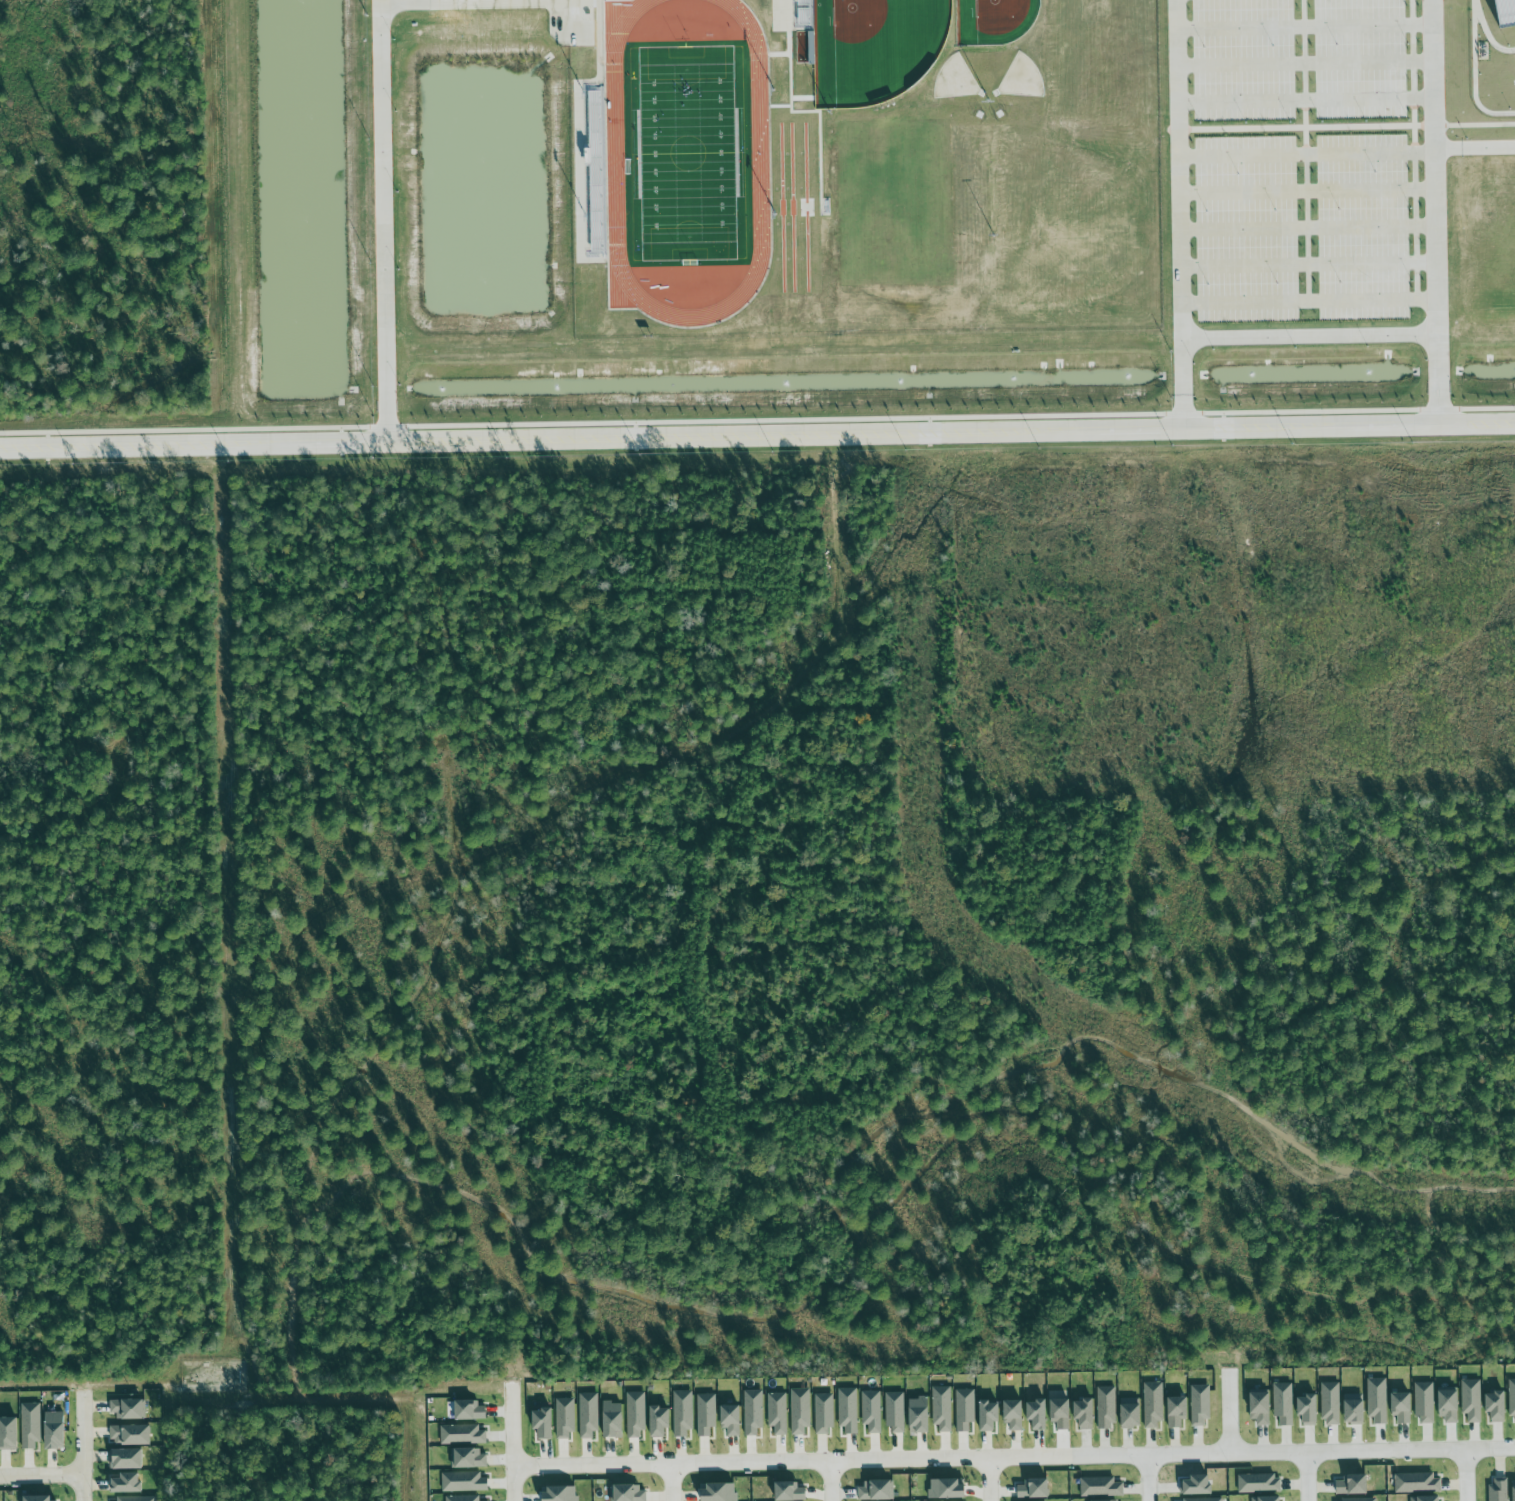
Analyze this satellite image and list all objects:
building: (1508, 12)
stadium: (1492, 57)
road: (1475, 149)
park: (687, 152)
parking lot: (1299, 160)
road: (1179, 169)
park: (894, 202)
road: (1436, 213)
road: (382, 221)
road: (757, 437)
building: (1377, 1400)
building: (1471, 1400)
building: (1424, 1402)
building: (1283, 1403)
building: (1330, 1403)
building: (1153, 1405)
building: (1200, 1405)
road: (1231, 1405)
building: (1497, 1405)
building: (1402, 1407)
building: (1449, 1407)
building: (942, 1408)
building: (1106, 1408)
building: (1260, 1408)
building: (128, 1409)
building: (1354, 1409)
building: (469, 1410)
building: (848, 1410)
building: (965, 1410)
building: (1308, 1410)
building: (871, 1411)
building: (1177, 1411)
building: (800, 1412)
building: (895, 1412)
building: (683, 1413)
building: (753, 1413)
building: (777, 1413)
building: (824, 1413)
building: (1061, 1413)
building: (1085, 1413)
building: (1131, 1413)
building: (588, 1414)
building: (706, 1414)
building: (1014, 1414)
building: (1038, 1414)
building: (635, 1415)
building: (919, 1415)
building: (990, 1416)
building: (564, 1418)
building: (613, 1420)
building: (731, 1420)
building: (660, 1421)
building: (543, 1423)
building: (30, 1426)
building: (54, 1430)
building: (9, 1433)
building: (462, 1434)
building: (131, 1435)
road: (512, 1441)
road: (86, 1452)
building: (468, 1458)
road: (1014, 1458)
building: (127, 1459)
road: (1466, 1475)
road: (1307, 1476)
road: (1149, 1478)
road: (989, 1480)
road: (828, 1481)
building: (463, 1482)
road: (669, 1482)
building: (127, 1483)
building: (1416, 1483)
building: (1259, 1484)
building: (1196, 1485)
building: (1353, 1485)
road: (43, 1486)
building: (1100, 1487)
building: (947, 1489)
building: (1034, 1489)
building: (1499, 1489)
building: (1514, 1489)
building: (876, 1491)
building: (789, 1492)
building: (628, 1493)
building: (560, 1494)
building: (136, 1498)
building: (462, 1498)
building: (1425, 1498)
building: (41, 1499)
building: (1267, 1499)
building: (1360, 1499)
building: (1116, 1500)
building: (1201, 1500)

